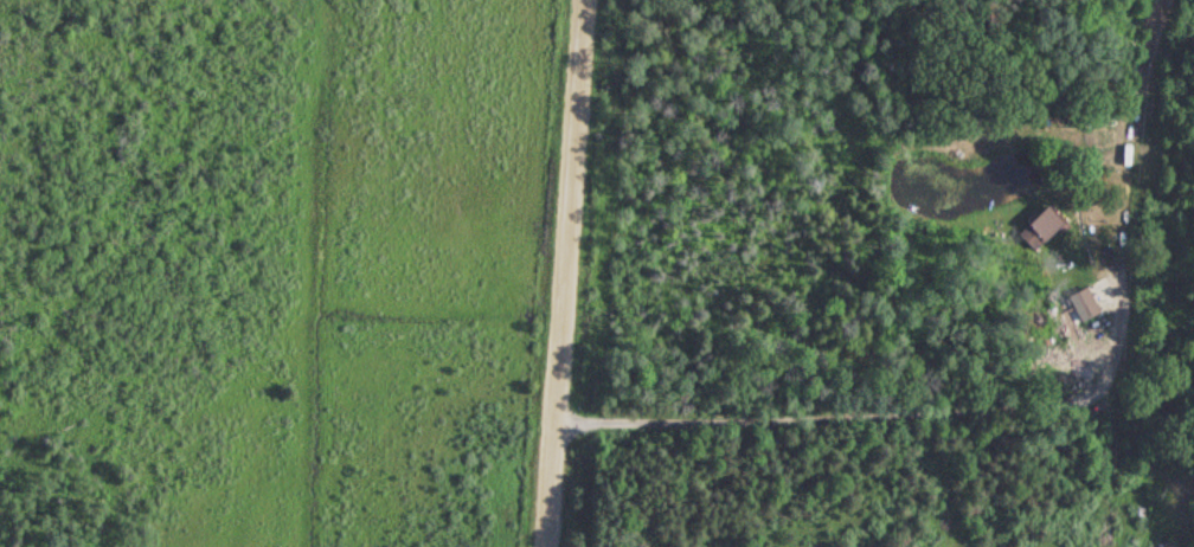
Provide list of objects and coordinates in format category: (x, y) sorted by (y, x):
building: (1041, 224)
road: (558, 272)

